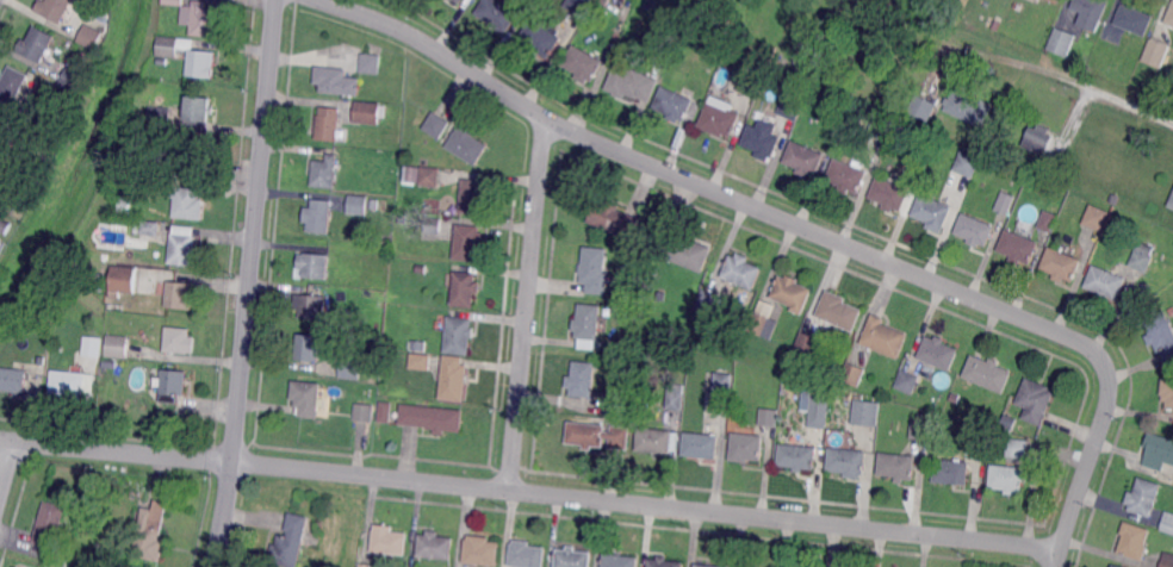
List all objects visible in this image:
building: (175, 1)
building: (459, 1)
building: (604, 1)
building: (1055, 1)
building: (530, 2)
building: (579, 6)
building: (1018, 8)
building: (55, 10)
building: (1092, 12)
building: (497, 14)
building: (201, 21)
building: (1135, 21)
building: (1169, 21)
building: (993, 24)
building: (89, 37)
building: (668, 37)
building: (540, 38)
building: (1061, 42)
building: (36, 45)
building: (168, 48)
building: (1156, 54)
building: (1096, 57)
building: (201, 64)
building: (370, 64)
building: (582, 64)
road: (1056, 75)
building: (73, 77)
building: (336, 82)
building: (633, 82)
building: (13, 83)
building: (749, 83)
building: (675, 104)
building: (924, 106)
building: (792, 107)
building: (968, 107)
building: (35, 112)
building: (200, 113)
building: (367, 113)
building: (160, 116)
building: (858, 116)
building: (718, 117)
building: (327, 124)
building: (437, 125)
building: (882, 129)
building: (5, 136)
building: (761, 139)
building: (1038, 139)
building: (467, 144)
building: (194, 158)
building: (805, 158)
building: (921, 158)
building: (967, 163)
building: (324, 173)
building: (410, 173)
building: (848, 175)
building: (432, 176)
building: (892, 191)
building: (472, 197)
building: (1115, 198)
building: (188, 202)
building: (1006, 202)
building: (358, 204)
building: (1171, 204)
building: (373, 205)
building: (124, 206)
building: (933, 211)
building: (319, 216)
building: (1097, 217)
building: (613, 219)
building: (1049, 220)
building: (435, 225)
building: (4, 228)
road: (807, 228)
building: (975, 229)
building: (148, 231)
building: (1, 242)
building: (468, 242)
building: (184, 247)
building: (1018, 248)
building: (688, 251)
building: (1142, 256)
building: (1062, 264)
building: (317, 266)
building: (421, 269)
building: (594, 270)
building: (743, 270)
building: (124, 280)
building: (1106, 282)
building: (100, 283)
road: (250, 283)
building: (463, 288)
building: (792, 293)
building: (180, 295)
building: (707, 303)
road: (527, 305)
building: (311, 306)
building: (838, 311)
building: (763, 320)
building: (589, 325)
building: (1161, 334)
building: (458, 335)
building: (883, 338)
building: (178, 341)
building: (118, 345)
building: (93, 347)
building: (309, 347)
building: (420, 347)
building: (629, 347)
building: (801, 349)
building: (939, 353)
building: (421, 361)
building: (110, 364)
building: (349, 368)
building: (989, 373)
building: (852, 374)
building: (454, 378)
building: (583, 379)
building: (13, 380)
building: (721, 381)
building: (908, 381)
building: (74, 382)
building: (174, 385)
building: (1168, 392)
building: (676, 395)
building: (308, 397)
building: (955, 398)
building: (1036, 400)
building: (615, 409)
building: (365, 411)
building: (386, 412)
building: (865, 415)
building: (433, 417)
building: (770, 417)
building: (818, 418)
building: (1008, 418)
building: (921, 429)
building: (598, 435)
building: (659, 440)
building: (976, 440)
building: (701, 445)
building: (747, 447)
building: (1019, 448)
building: (1159, 450)
building: (799, 456)
building: (848, 461)
building: (899, 466)
road: (7, 471)
building: (952, 472)
building: (1008, 478)
building: (167, 486)
road: (530, 493)
building: (1146, 496)
building: (1168, 522)
building: (50, 524)
building: (150, 532)
building: (1135, 540)
building: (387, 541)
building: (291, 542)
building: (435, 546)
building: (482, 550)
building: (528, 554)
building: (573, 557)
building: (1168, 560)
building: (63, 561)
building: (619, 561)
building: (664, 562)
building: (708, 565)
building: (365, 566)
building: (1117, 566)

